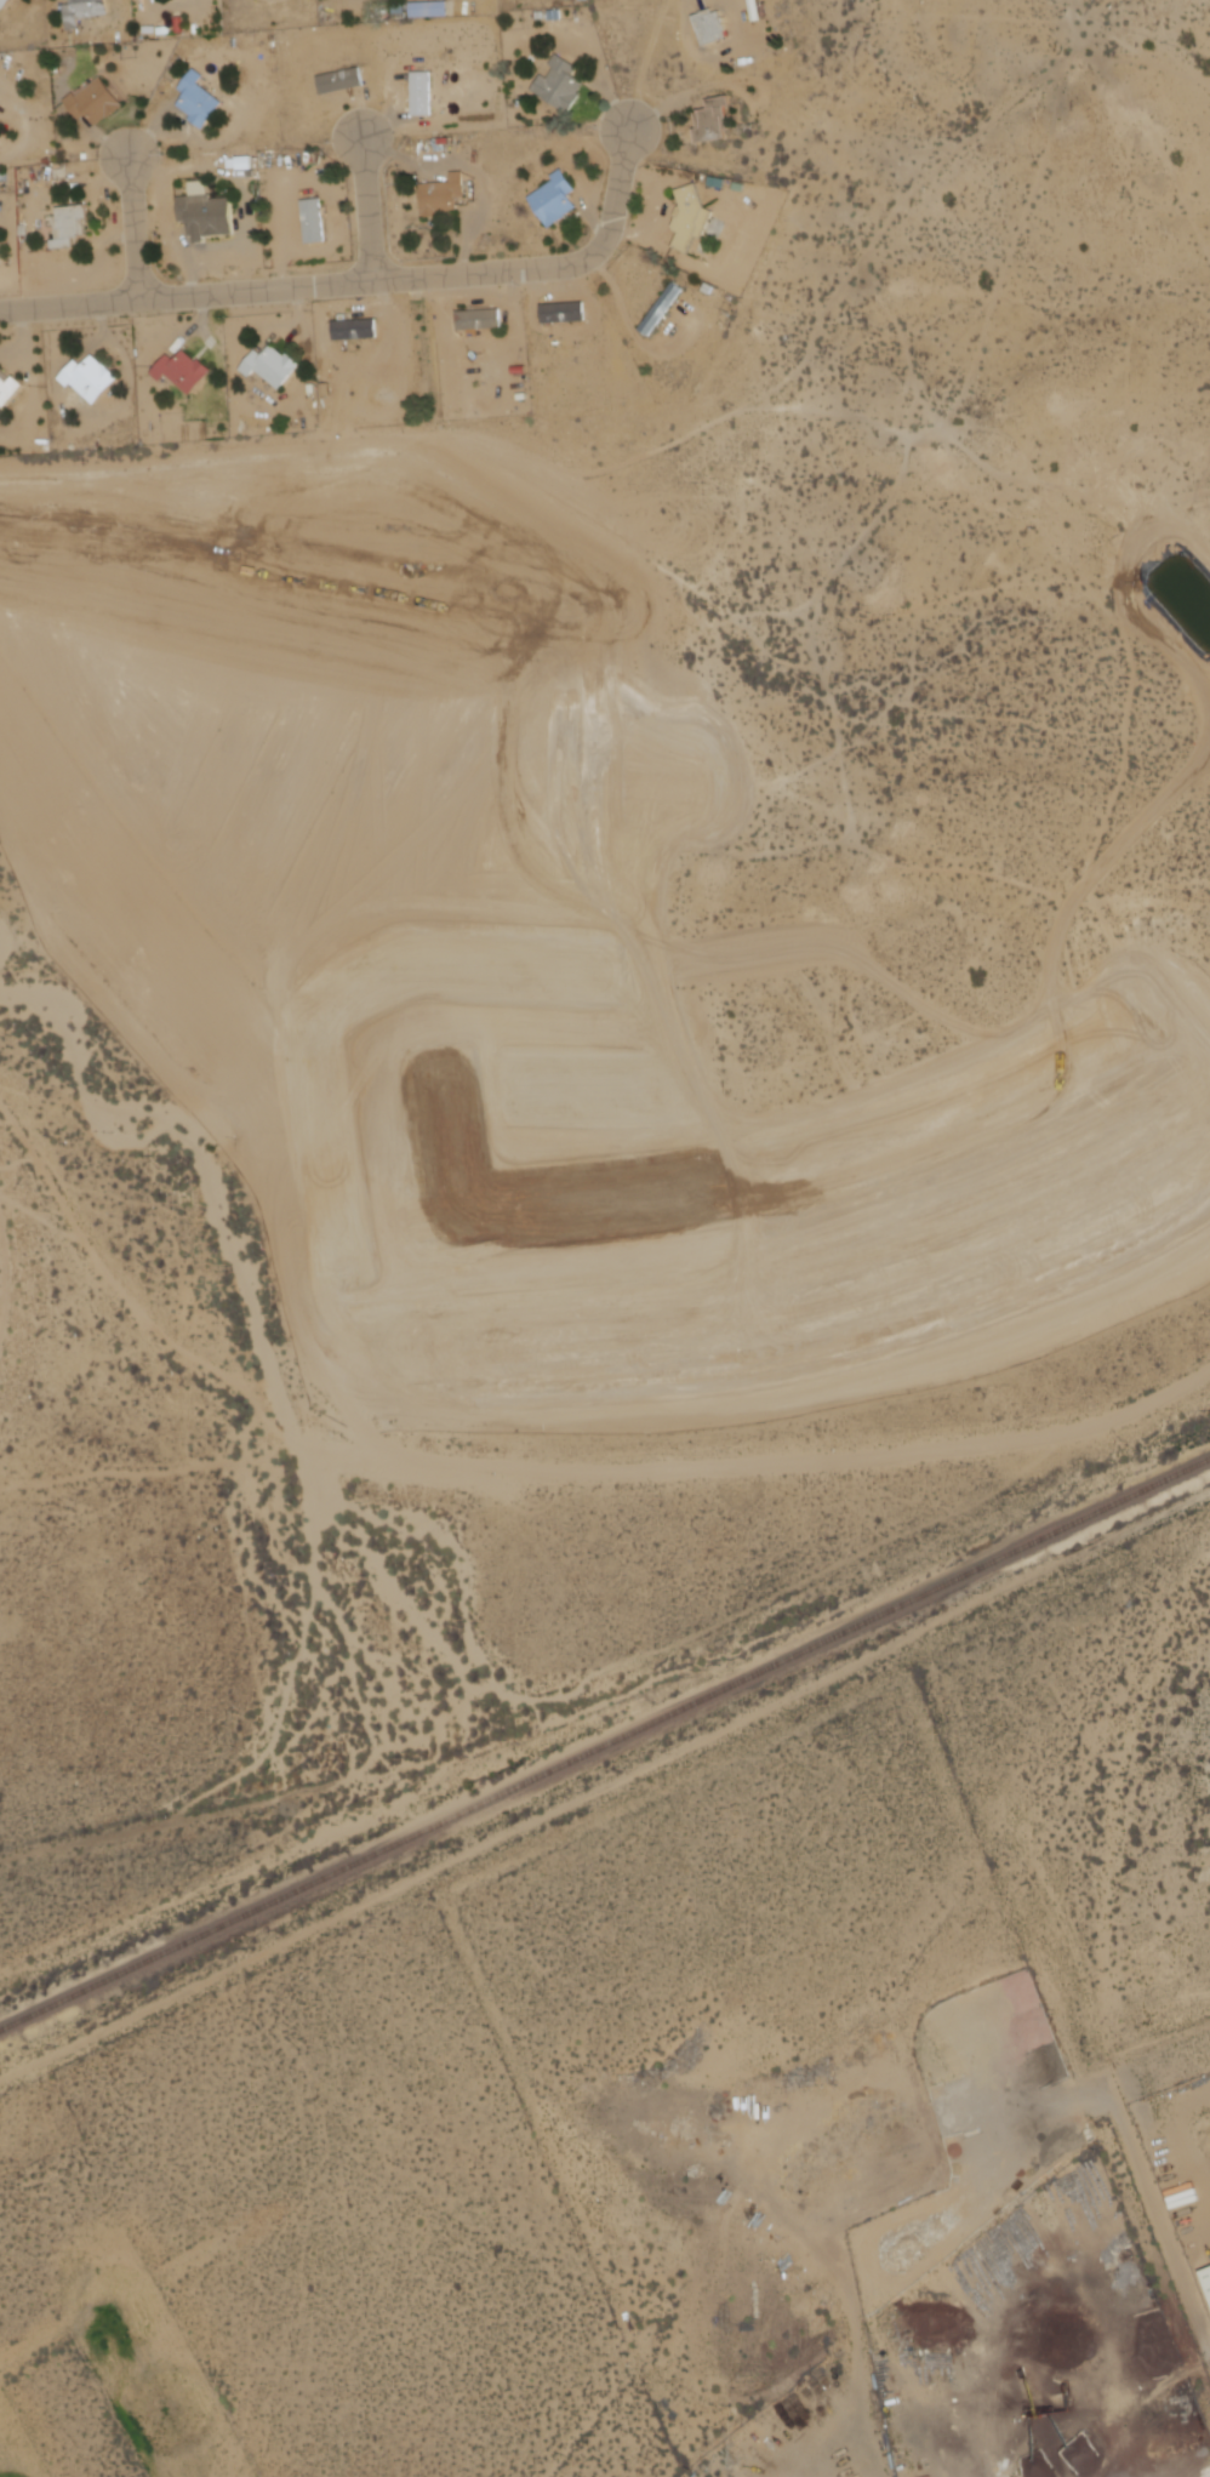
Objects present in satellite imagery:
building: (6, 4)
building: (428, 8)
building: (86, 11)
building: (713, 25)
building: (343, 82)
building: (563, 84)
building: (423, 93)
building: (200, 99)
building: (96, 103)
building: (714, 119)
building: (445, 195)
building: (558, 199)
road: (371, 209)
building: (207, 216)
building: (692, 217)
building: (315, 221)
building: (72, 224)
road: (136, 224)
building: (1, 247)
road: (364, 278)
building: (664, 308)
building: (565, 313)
building: (483, 320)
building: (358, 329)
building: (274, 365)
building: (188, 372)
building: (92, 378)
building: (8, 393)
railway: (604, 1745)

